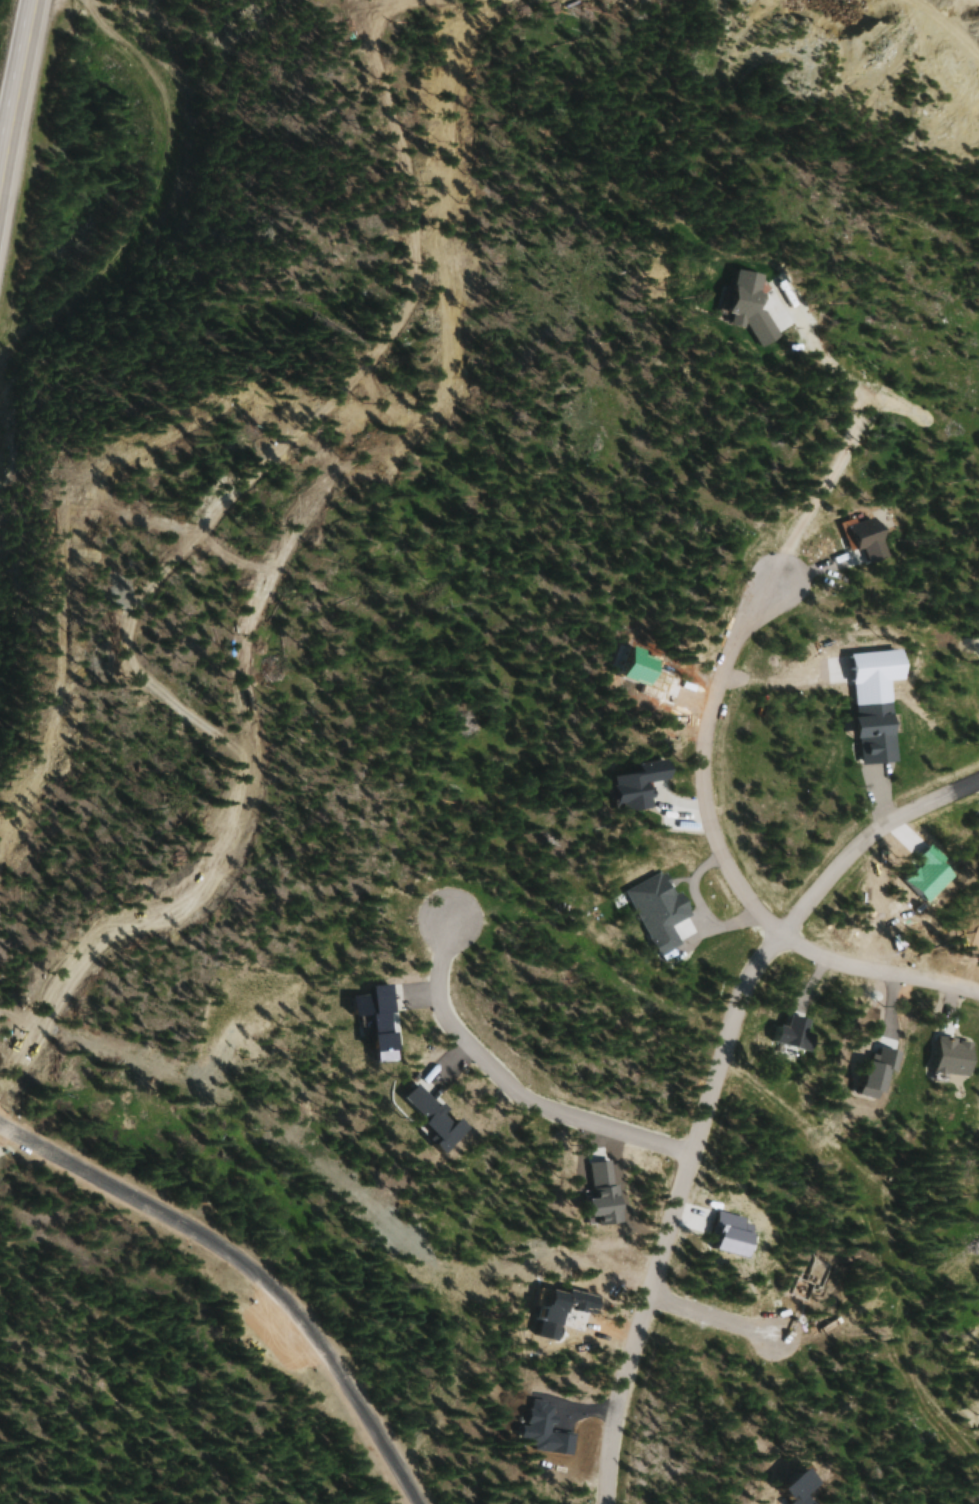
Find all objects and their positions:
road: (930, 34)
road: (20, 115)
road: (852, 431)
road: (279, 545)
building: (877, 733)
road: (698, 761)
road: (876, 971)
road: (511, 1082)
road: (709, 1088)
road: (247, 1274)
road: (708, 1315)

